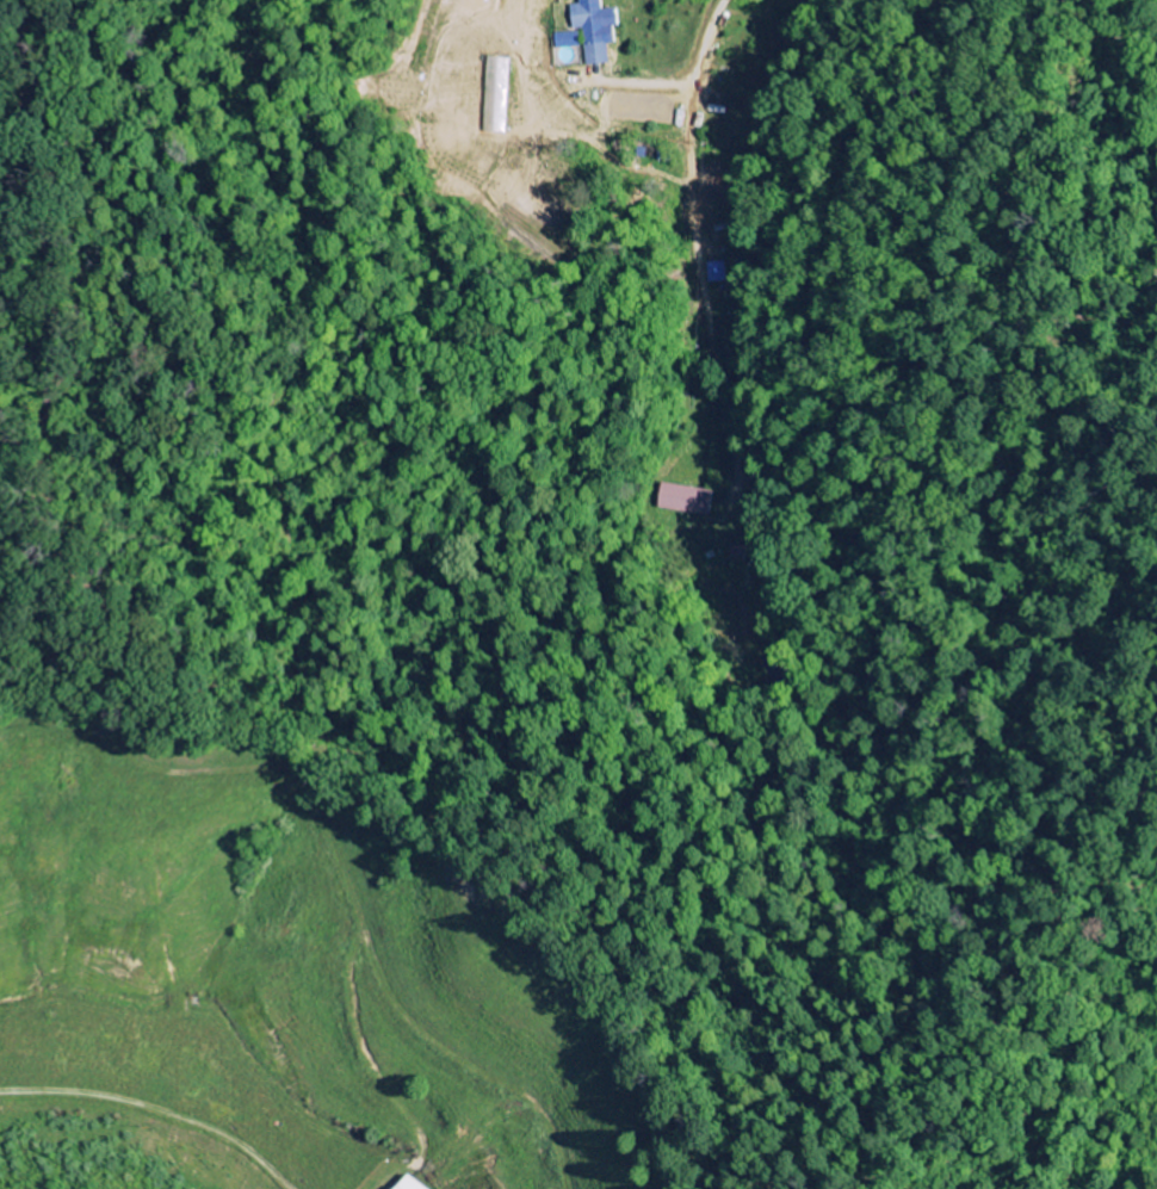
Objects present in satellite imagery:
building: (586, 32)
road: (694, 241)
building: (681, 501)
building: (417, 1184)

